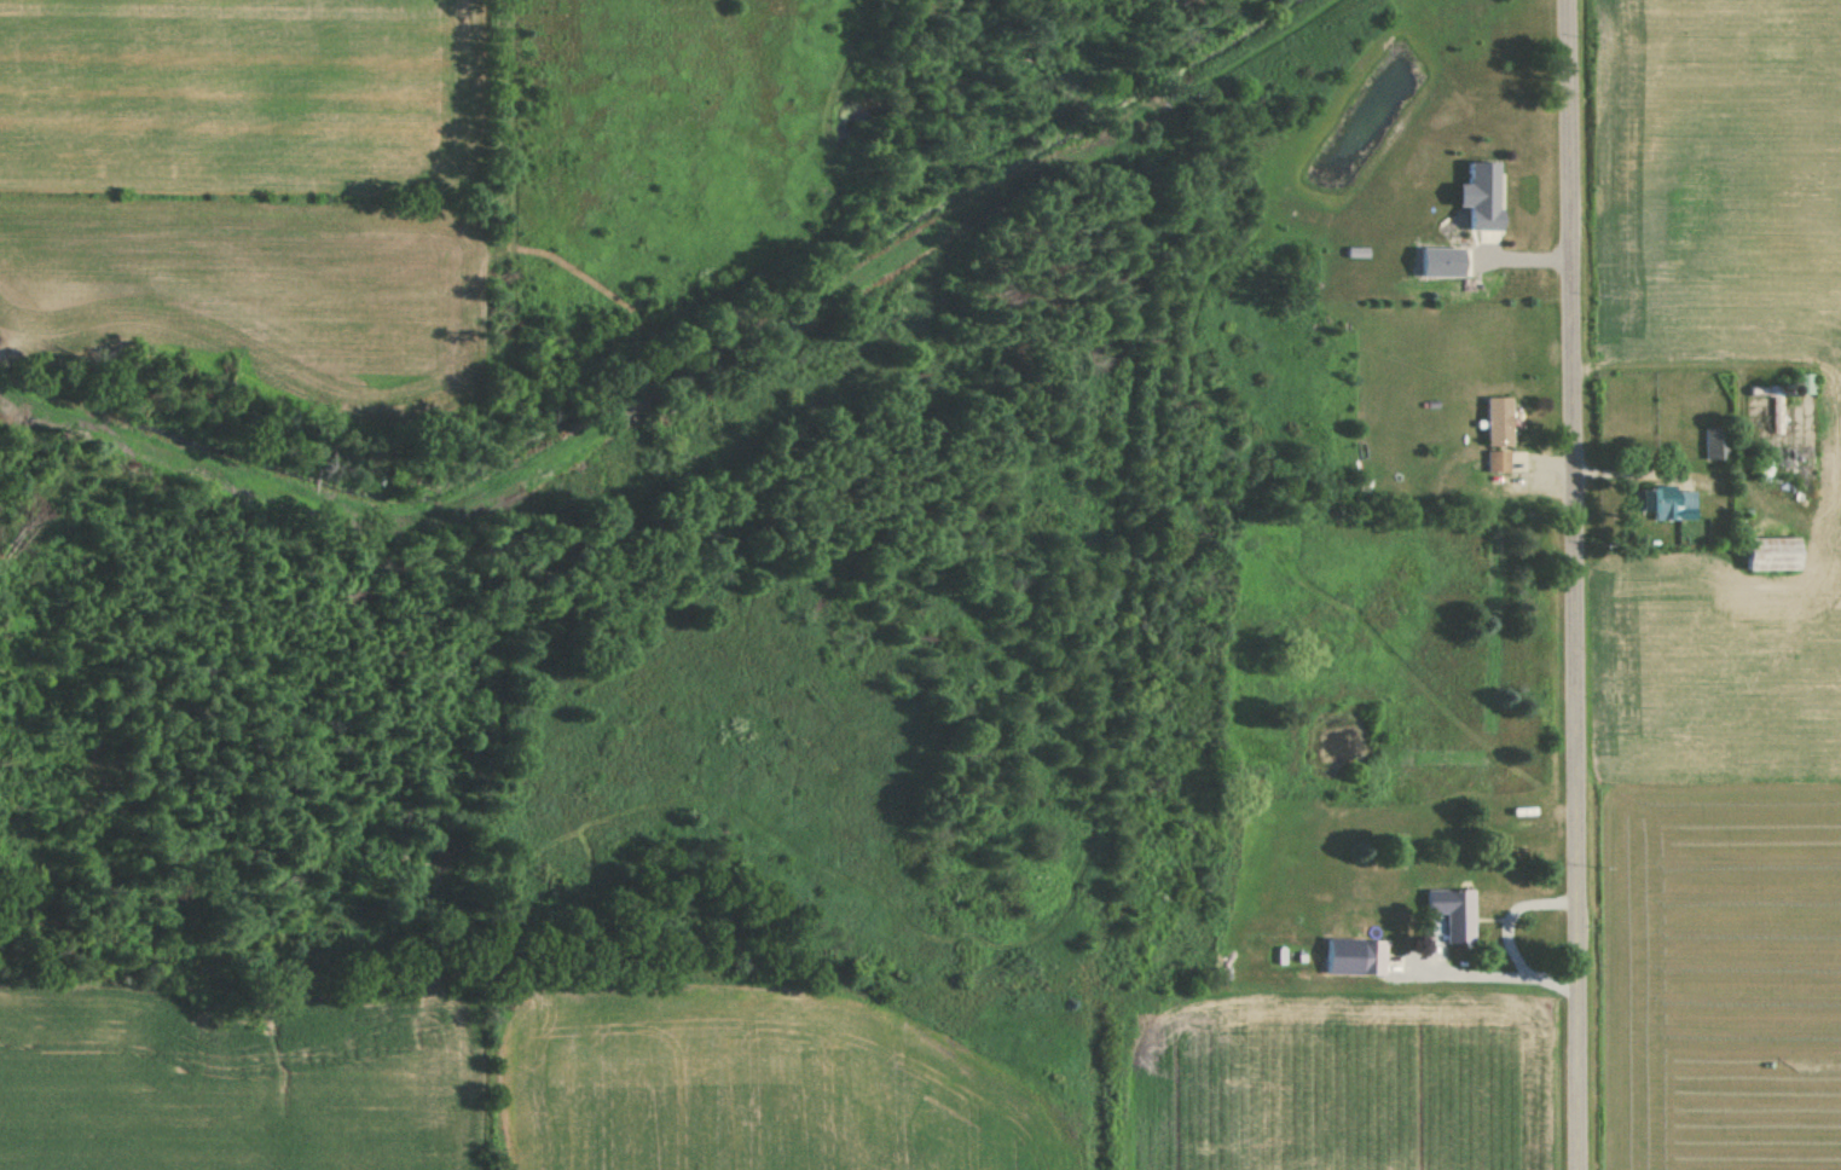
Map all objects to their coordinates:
building: (1478, 198)
building: (1801, 384)
building: (1496, 422)
building: (1714, 444)
building: (1495, 462)
building: (1666, 504)
building: (1768, 555)
road: (1577, 584)
building: (1451, 913)
building: (1354, 957)

